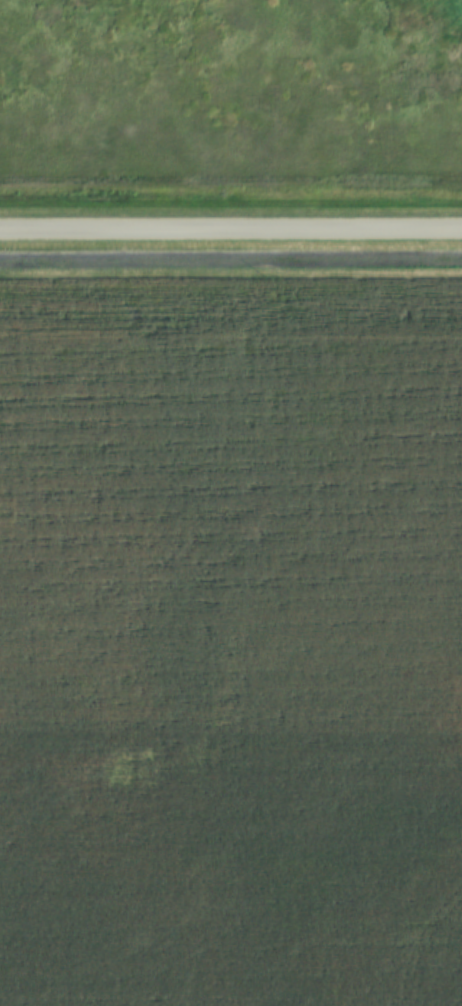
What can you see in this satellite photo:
road: (231, 235)

